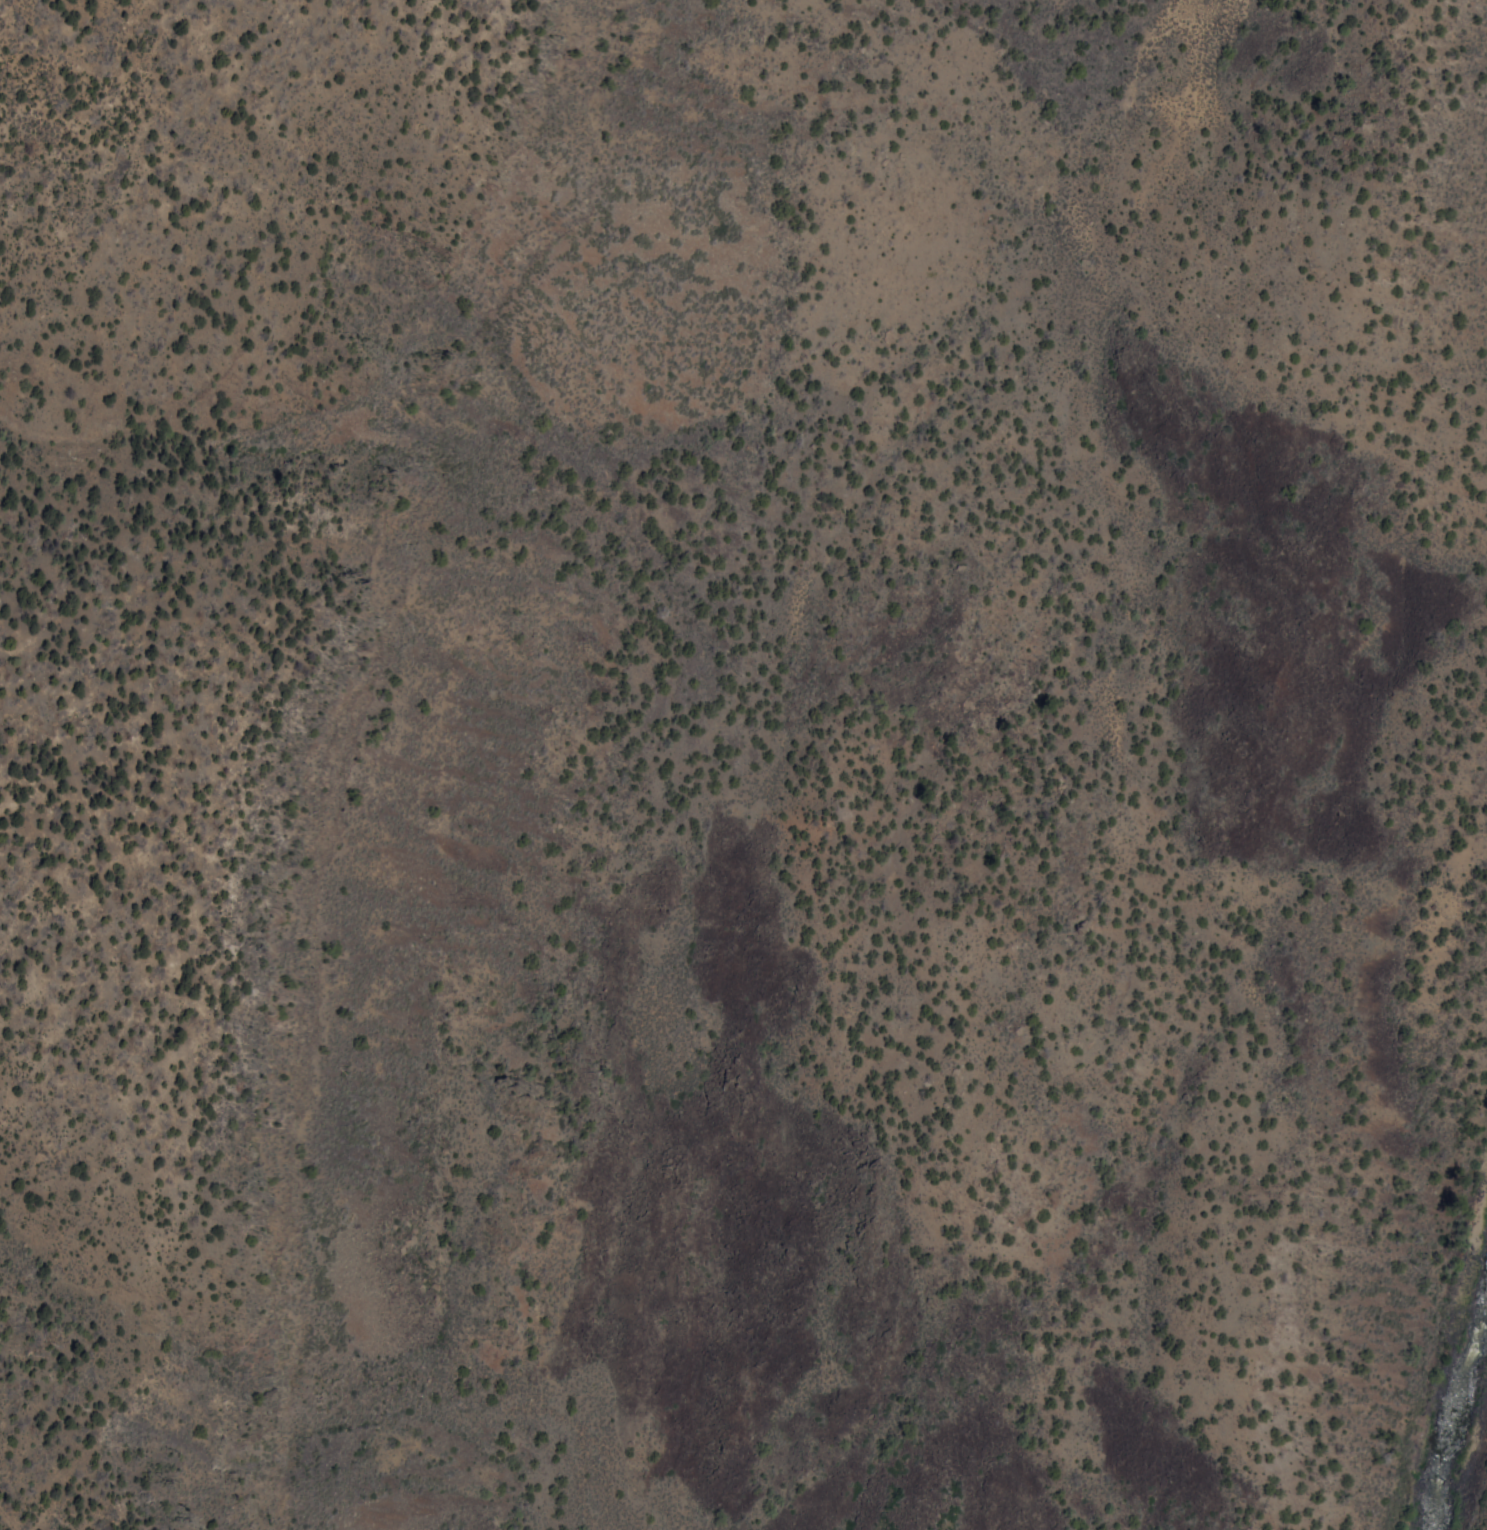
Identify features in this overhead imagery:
river: (1461, 1439)

